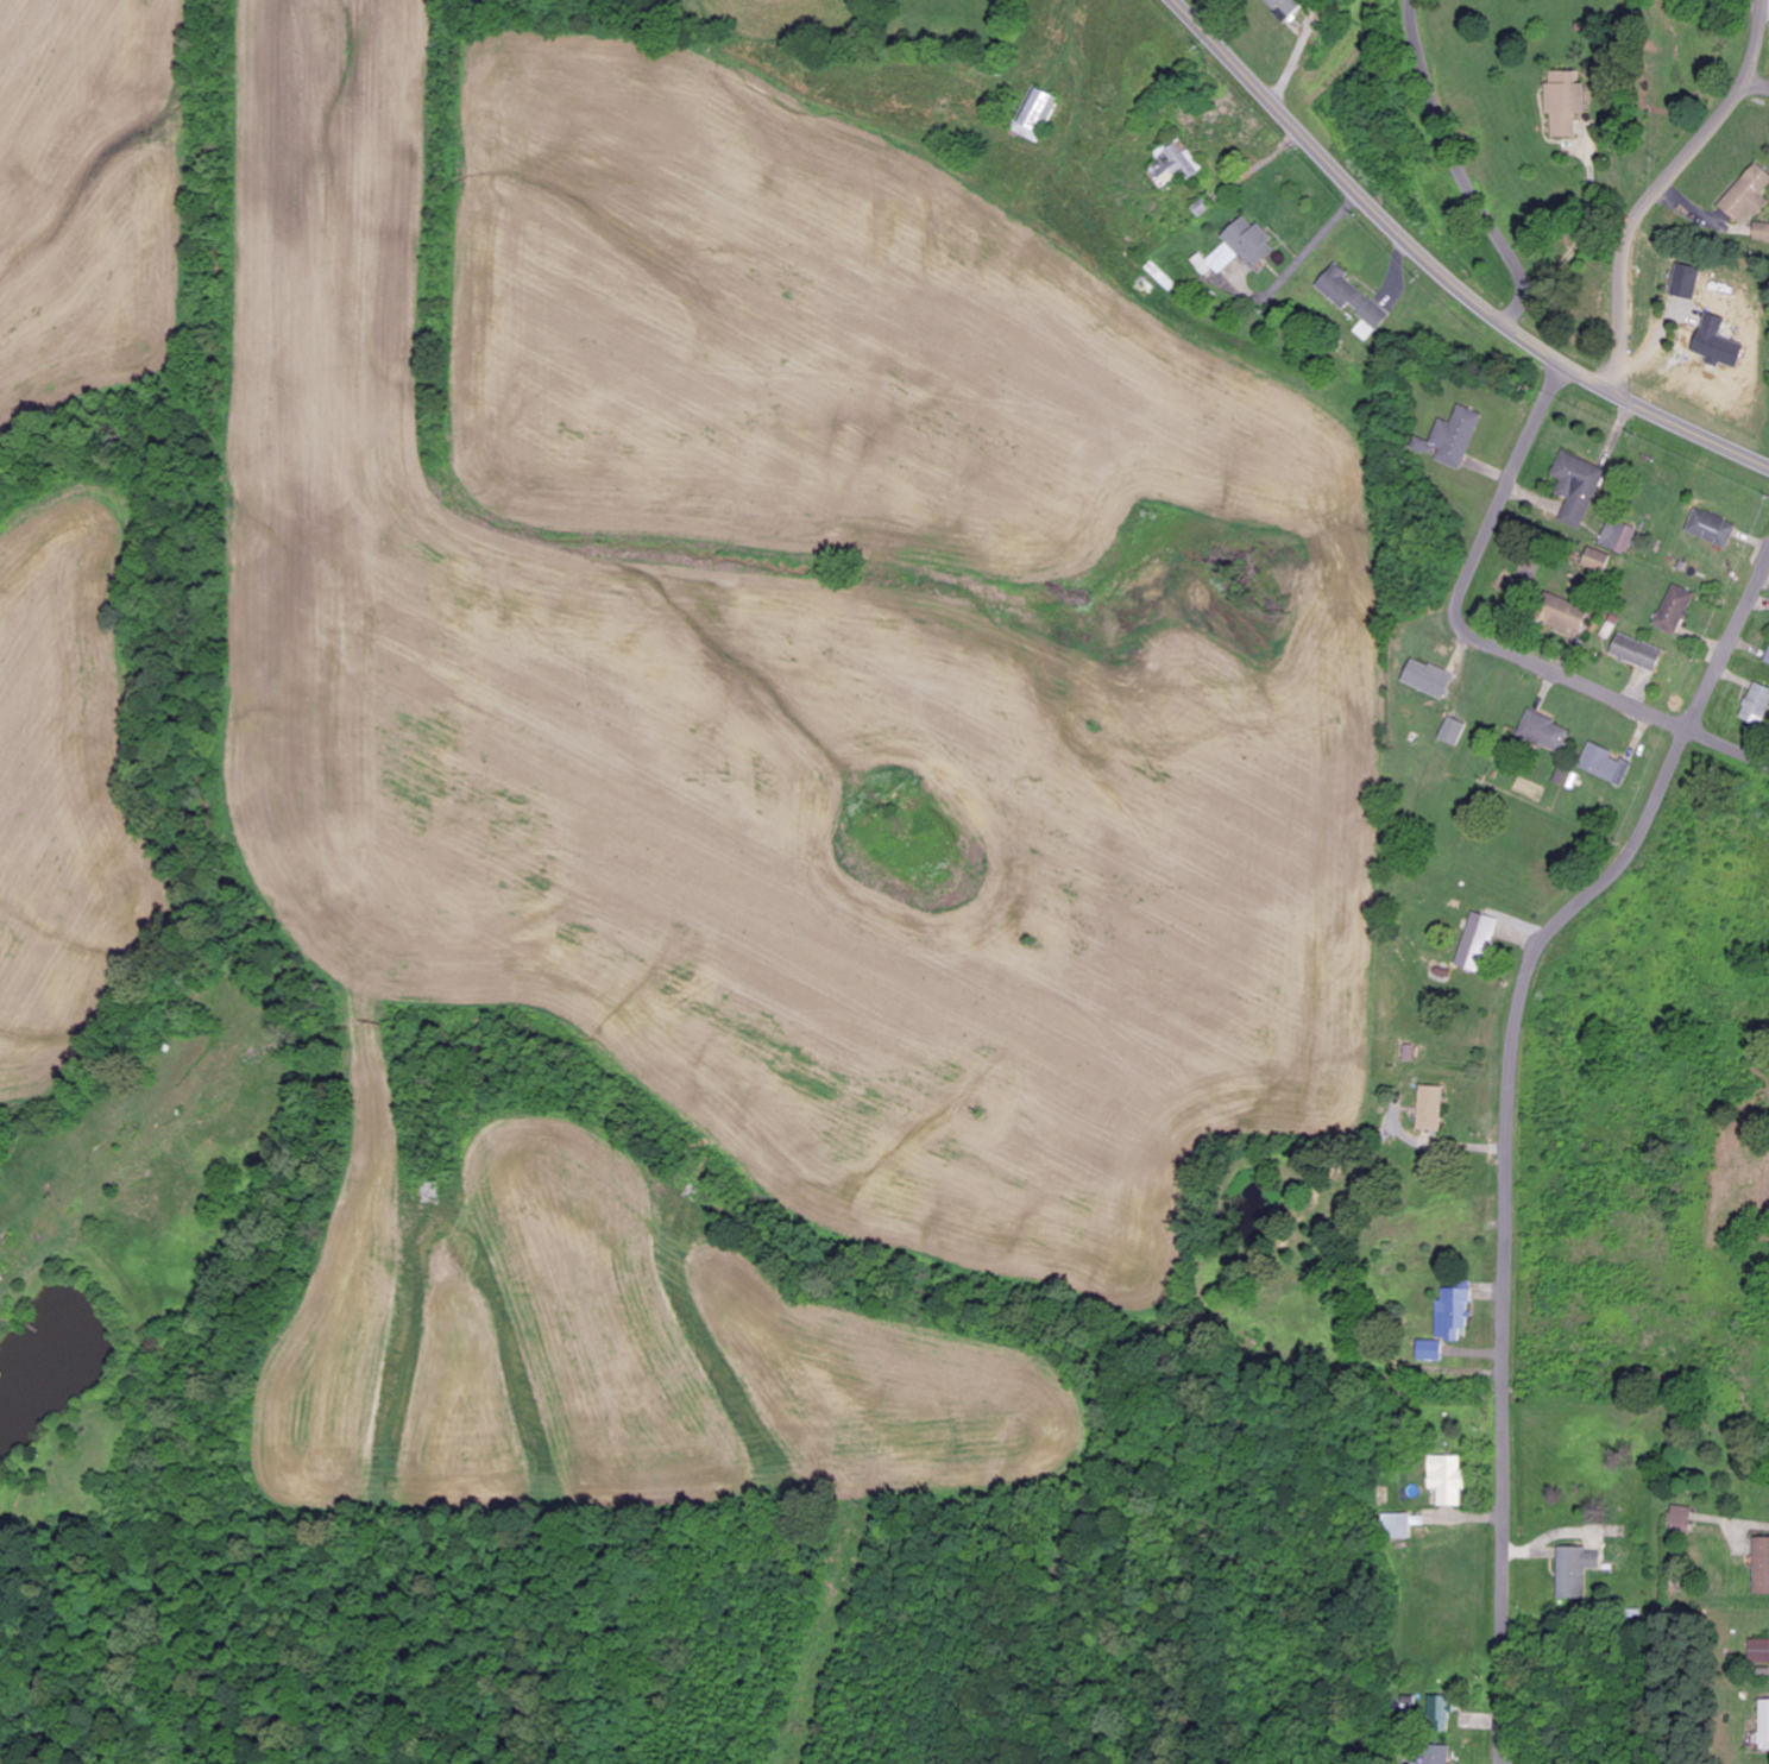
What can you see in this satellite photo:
building: (1286, 8)
road: (1758, 82)
building: (1563, 102)
building: (1035, 114)
building: (1177, 163)
road: (1456, 165)
road: (1662, 183)
building: (1748, 194)
building: (1761, 233)
building: (1240, 248)
road: (1446, 269)
building: (1345, 291)
building: (1455, 436)
building: (1578, 487)
building: (1704, 523)
building: (1618, 536)
building: (1597, 560)
building: (1674, 616)
building: (1566, 617)
road: (1482, 636)
building: (1639, 653)
building: (1758, 706)
building: (1455, 731)
building: (1545, 731)
building: (1604, 763)
building: (1479, 943)
building: (1434, 1109)
road: (1511, 1128)
building: (0, 1277)
building: (1455, 1312)
building: (1431, 1352)
building: (1448, 1480)
building: (1680, 1520)
building: (1399, 1526)
building: (1762, 1564)
building: (1574, 1571)
building: (1759, 1652)
building: (1764, 1725)
building: (1440, 1756)

